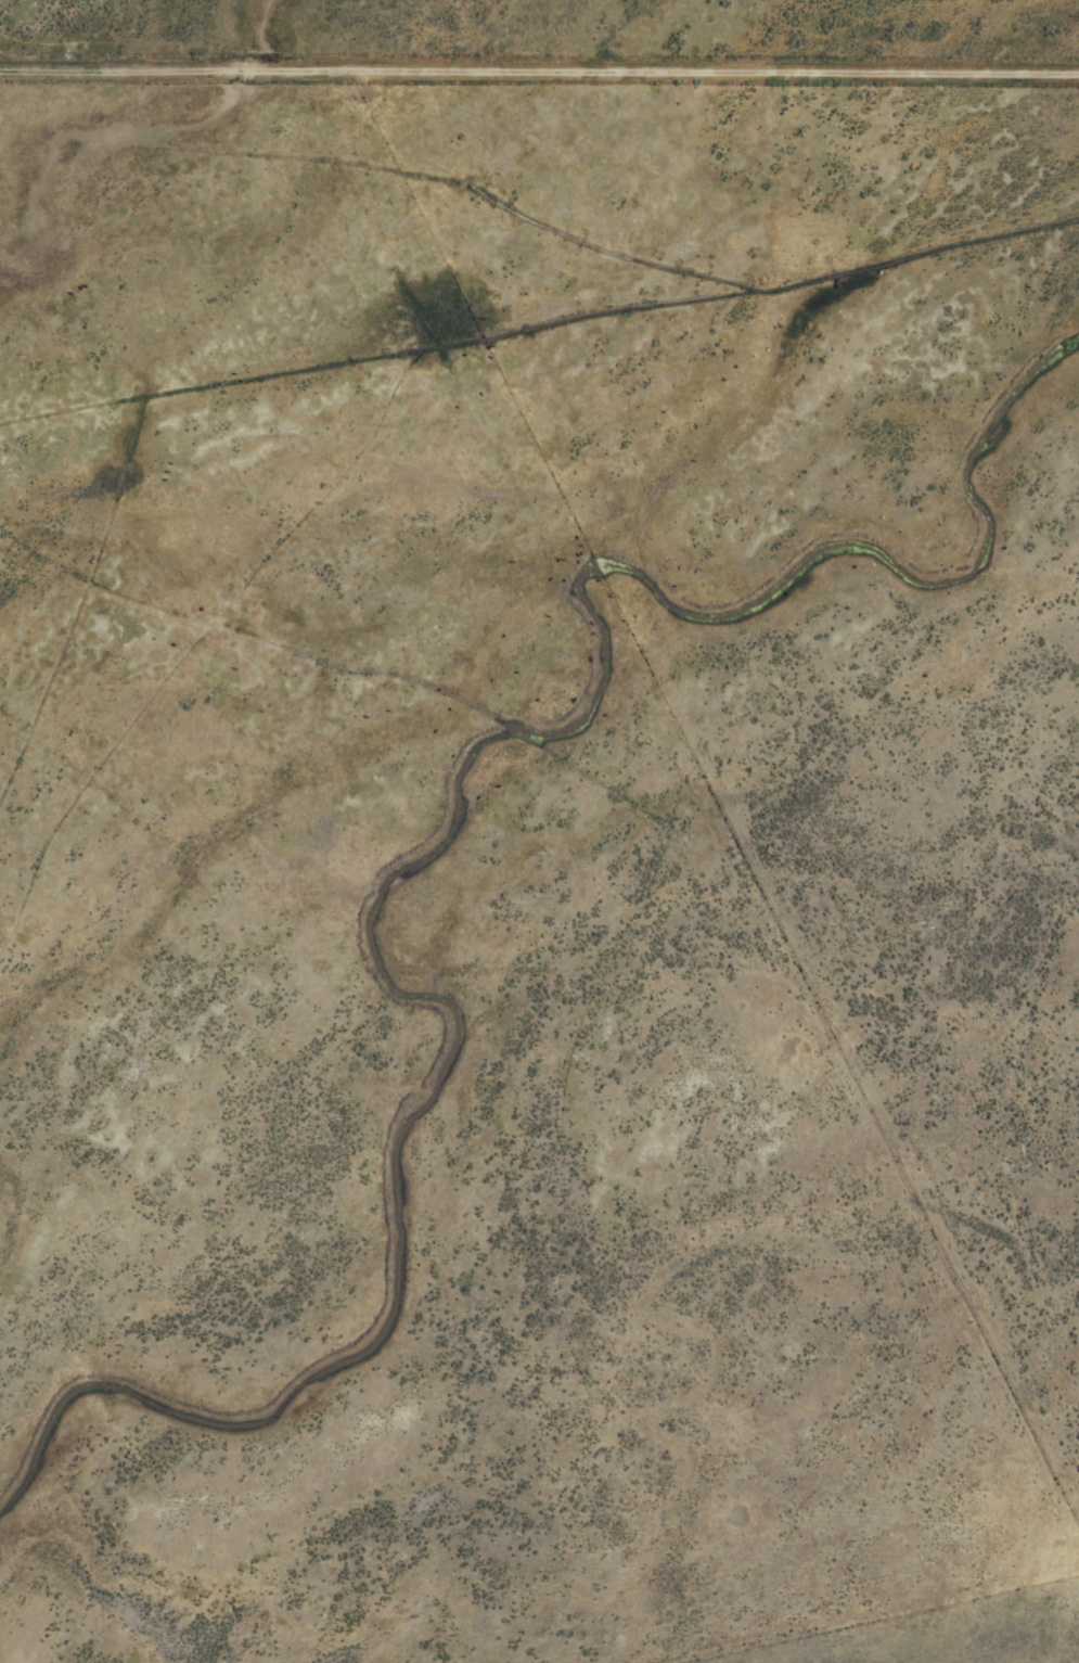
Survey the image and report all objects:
road: (539, 64)
crop: (539, 831)

